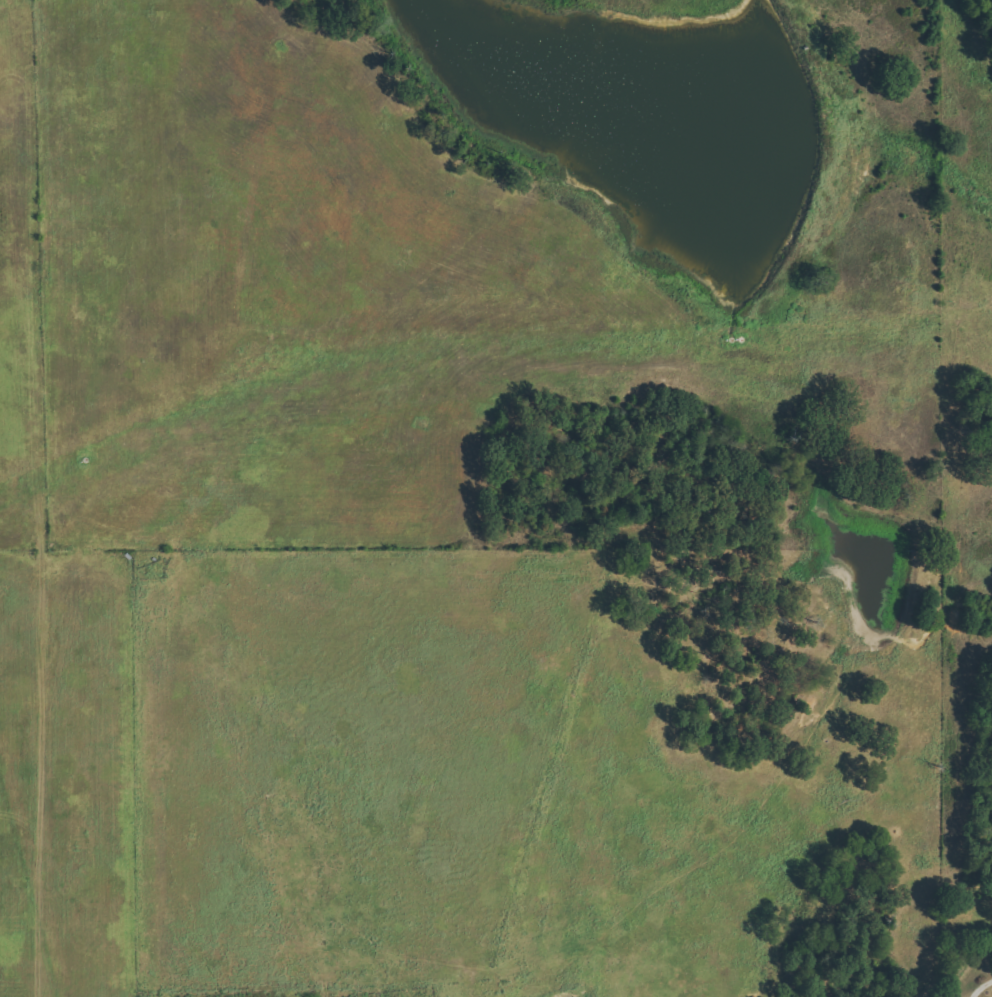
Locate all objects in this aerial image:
road: (983, 988)

